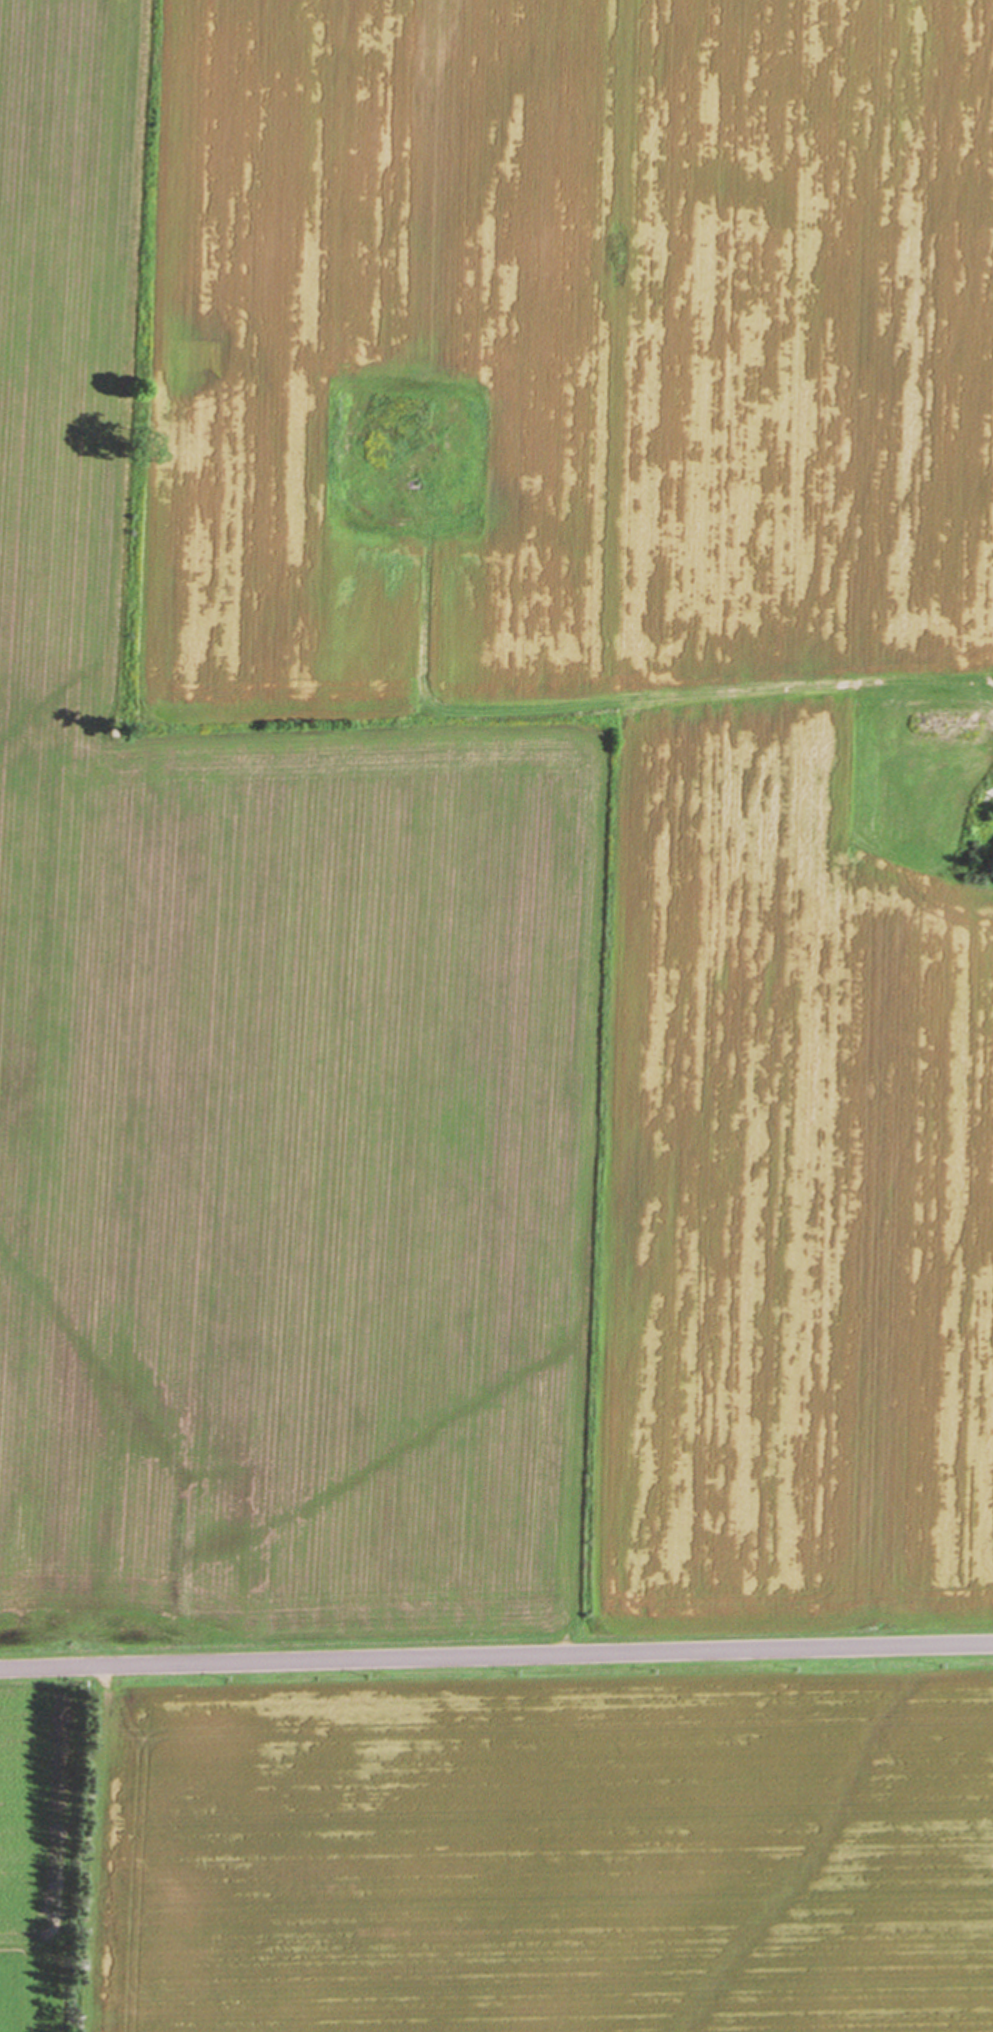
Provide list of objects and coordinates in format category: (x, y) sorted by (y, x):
road: (496, 1656)

